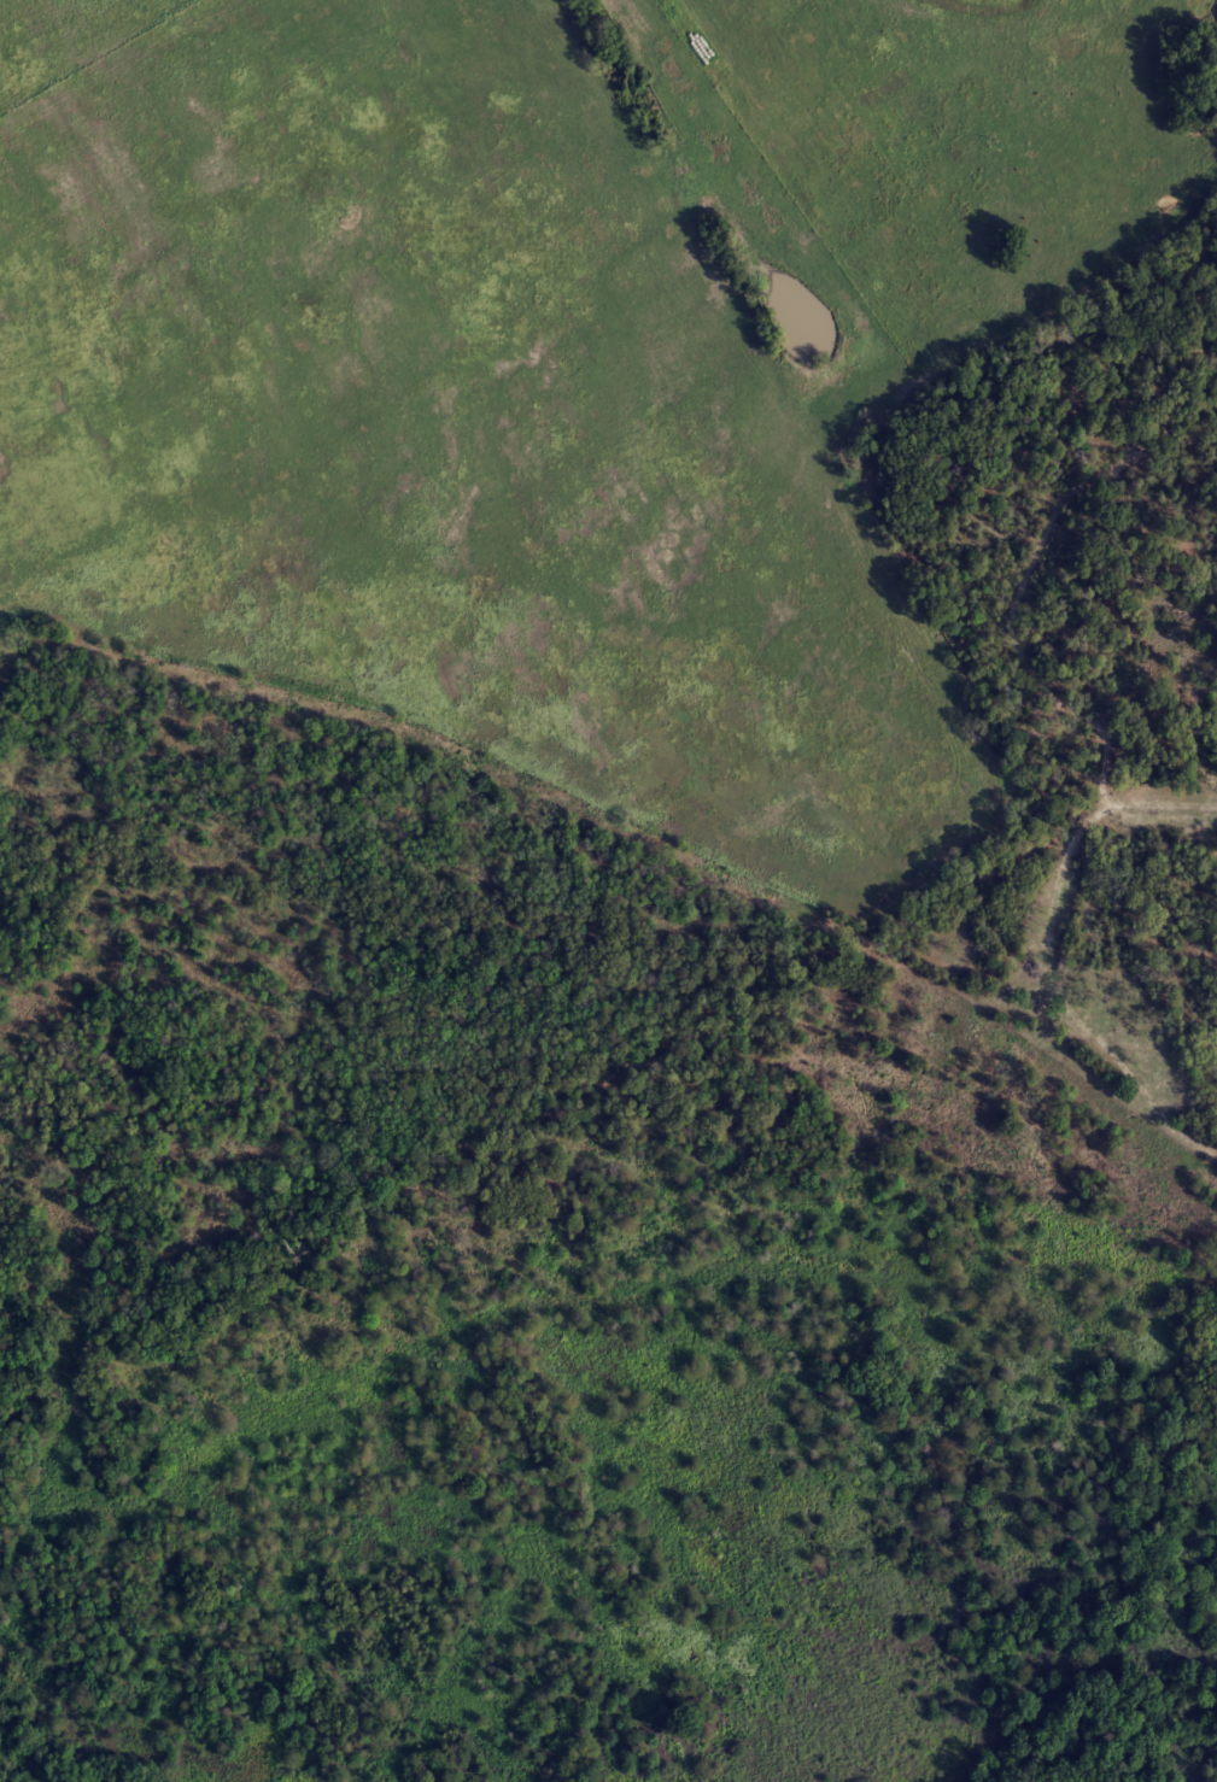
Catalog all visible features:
road: (972, 19)

